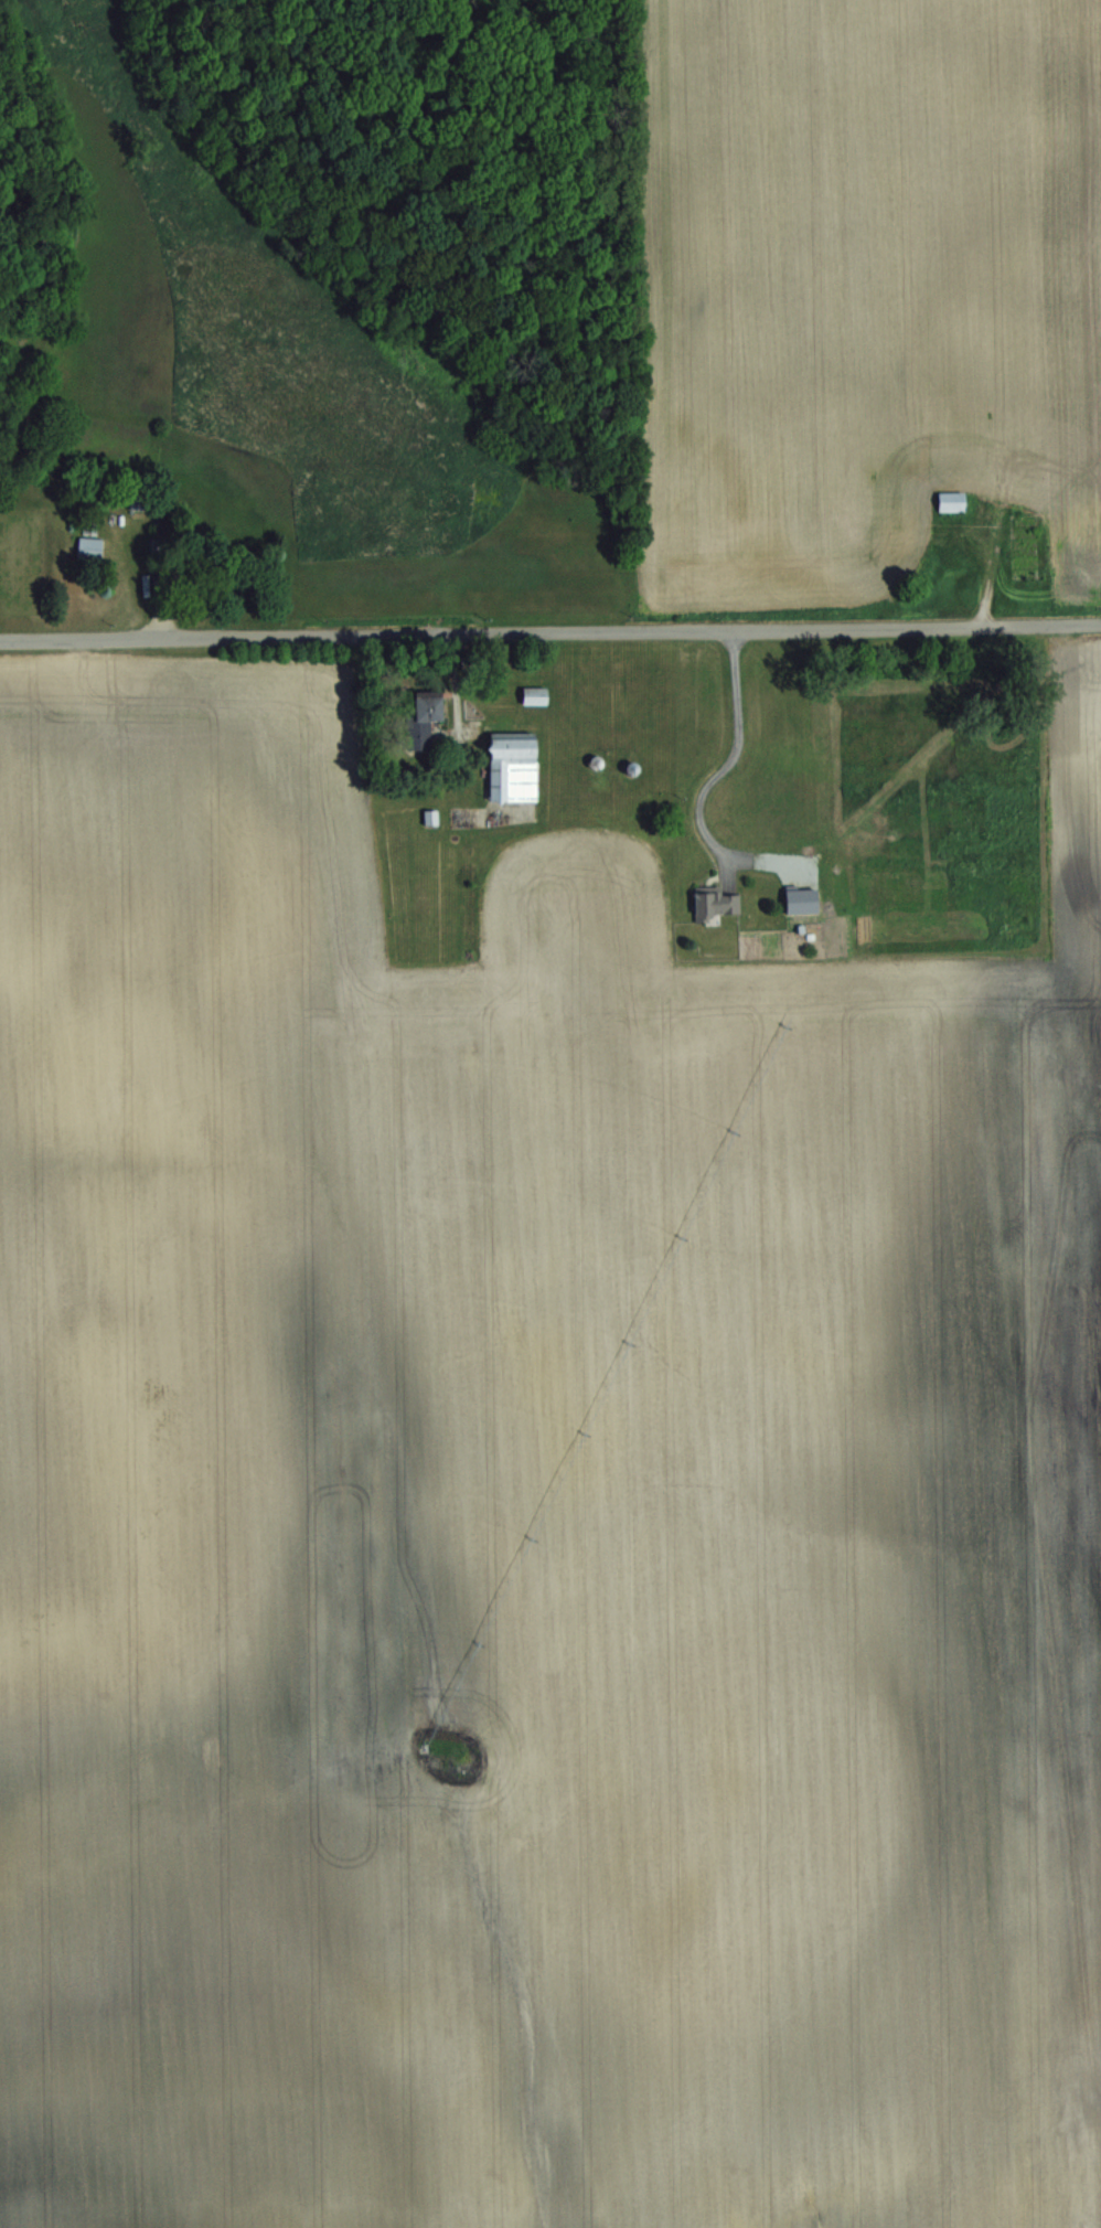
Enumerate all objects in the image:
building: (958, 500)
building: (93, 547)
road: (549, 631)
building: (539, 694)
building: (430, 711)
building: (516, 767)
road: (715, 777)

